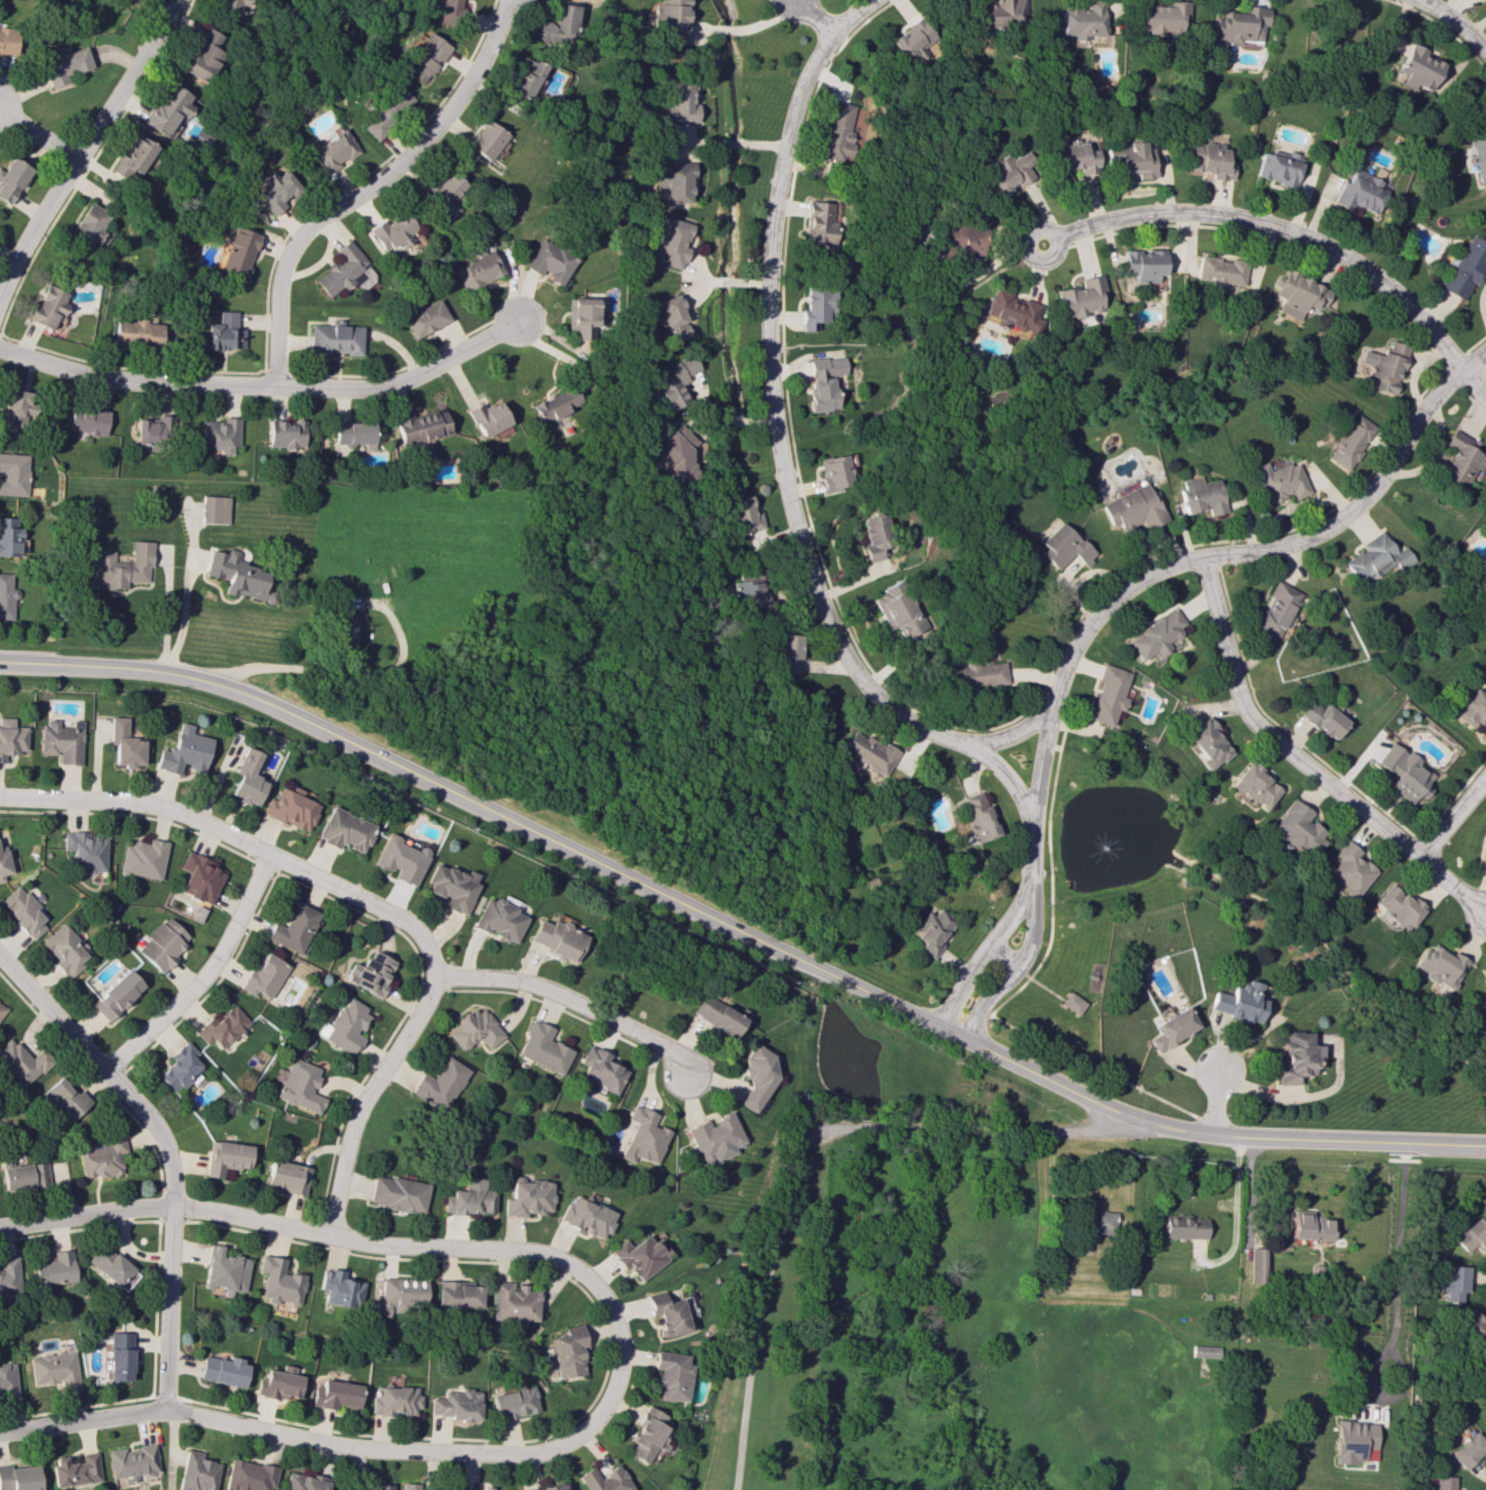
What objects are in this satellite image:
building: (228, 5)
building: (448, 8)
building: (1005, 11)
road: (812, 16)
building: (1161, 17)
building: (670, 20)
building: (1083, 20)
road: (1453, 23)
building: (556, 25)
building: (1240, 25)
road: (741, 27)
building: (908, 39)
building: (8, 41)
building: (203, 56)
building: (426, 58)
building: (63, 63)
building: (1417, 68)
building: (525, 77)
building: (678, 100)
building: (167, 110)
building: (387, 110)
building: (835, 130)
road: (38, 133)
building: (486, 139)
road: (732, 143)
road: (85, 144)
building: (333, 151)
building: (1478, 154)
building: (1075, 158)
building: (1130, 158)
building: (131, 160)
building: (1211, 160)
building: (1279, 168)
building: (1007, 172)
building: (11, 180)
building: (674, 183)
road: (368, 189)
building: (277, 190)
building: (1362, 191)
building: (445, 193)
building: (820, 223)
building: (89, 225)
building: (393, 231)
road: (1294, 231)
building: (957, 239)
building: (671, 242)
building: (239, 252)
building: (550, 261)
building: (1145, 264)
building: (1465, 268)
building: (1222, 270)
building: (478, 271)
road: (727, 281)
building: (1299, 294)
building: (1082, 297)
building: (816, 306)
building: (47, 307)
building: (1012, 309)
building: (581, 316)
building: (424, 317)
building: (669, 318)
building: (137, 331)
building: (225, 332)
building: (335, 339)
building: (1386, 366)
building: (675, 381)
building: (825, 382)
road: (264, 385)
road: (771, 398)
building: (555, 405)
building: (13, 409)
building: (487, 417)
building: (89, 420)
building: (421, 427)
building: (155, 430)
building: (286, 433)
building: (355, 433)
building: (221, 434)
building: (1351, 442)
building: (675, 456)
building: (1460, 461)
building: (839, 471)
building: (13, 473)
building: (1281, 481)
building: (1201, 496)
building: (214, 509)
building: (1133, 509)
building: (744, 515)
building: (875, 536)
building: (9, 537)
building: (1064, 546)
road: (1274, 549)
building: (1375, 557)
building: (121, 567)
building: (238, 575)
crop: (428, 581)
building: (748, 589)
building: (6, 597)
building: (898, 609)
building: (1275, 609)
building: (484, 616)
road: (166, 618)
road: (182, 621)
building: (347, 630)
building: (1156, 636)
building: (787, 652)
road: (339, 672)
building: (1107, 694)
building: (1471, 707)
building: (1323, 719)
road: (1015, 733)
building: (11, 737)
building: (62, 741)
building: (1206, 743)
building: (125, 744)
building: (184, 751)
building: (868, 752)
road: (1302, 763)
building: (1405, 773)
building: (248, 779)
building: (1254, 785)
building: (291, 807)
building: (976, 816)
road: (1032, 816)
road: (1451, 816)
building: (345, 829)
building: (1297, 829)
road: (240, 841)
road: (1029, 842)
building: (85, 851)
building: (1484, 853)
building: (144, 858)
building: (402, 858)
building: (4, 861)
building: (1348, 870)
road: (612, 871)
road: (1026, 872)
building: (199, 877)
building: (452, 887)
building: (1397, 906)
building: (23, 911)
building: (499, 919)
building: (294, 928)
building: (930, 931)
building: (557, 937)
building: (162, 944)
building: (65, 949)
road: (1008, 951)
road: (982, 956)
building: (1439, 966)
road: (1016, 969)
building: (371, 973)
road: (203, 974)
building: (264, 976)
building: (1484, 981)
building: (117, 995)
road: (570, 1001)
building: (1239, 1002)
building: (1071, 1003)
building: (2, 1008)
road: (52, 1013)
building: (716, 1016)
building: (223, 1026)
building: (345, 1027)
building: (1171, 1028)
building: (475, 1029)
building: (543, 1048)
building: (1296, 1057)
building: (21, 1062)
building: (180, 1067)
building: (601, 1070)
building: (755, 1077)
building: (439, 1084)
building: (299, 1085)
building: (66, 1098)
road: (362, 1099)
road: (1215, 1101)
building: (643, 1137)
building: (714, 1138)
road: (1348, 1140)
road: (797, 1154)
building: (101, 1157)
building: (226, 1157)
building: (25, 1176)
building: (286, 1177)
building: (398, 1193)
building: (470, 1198)
building: (528, 1198)
road: (1233, 1212)
building: (587, 1216)
building: (1309, 1226)
building: (1097, 1227)
building: (1184, 1227)
road: (170, 1228)
building: (1471, 1238)
building: (641, 1255)
building: (1259, 1265)
building: (113, 1266)
building: (56, 1269)
building: (225, 1270)
building: (8, 1274)
building: (279, 1281)
building: (1452, 1282)
building: (340, 1289)
building: (399, 1294)
building: (458, 1295)
building: (513, 1302)
road: (1394, 1306)
building: (668, 1313)
building: (1472, 1323)
building: (568, 1351)
building: (1205, 1351)
road: (618, 1353)
building: (120, 1355)
building: (54, 1369)
building: (224, 1371)
building: (672, 1376)
building: (8, 1381)
building: (280, 1383)
building: (335, 1394)
building: (395, 1400)
building: (514, 1402)
building: (456, 1405)
building: (1353, 1440)
building: (1468, 1450)
building: (133, 1461)
building: (76, 1469)
building: (198, 1472)
building: (249, 1476)
building: (19, 1477)
building: (605, 1480)
building: (305, 1482)
building: (1444, 1482)
building: (382, 1486)
building: (409, 1486)
building: (548, 1487)
building: (488, 1488)

